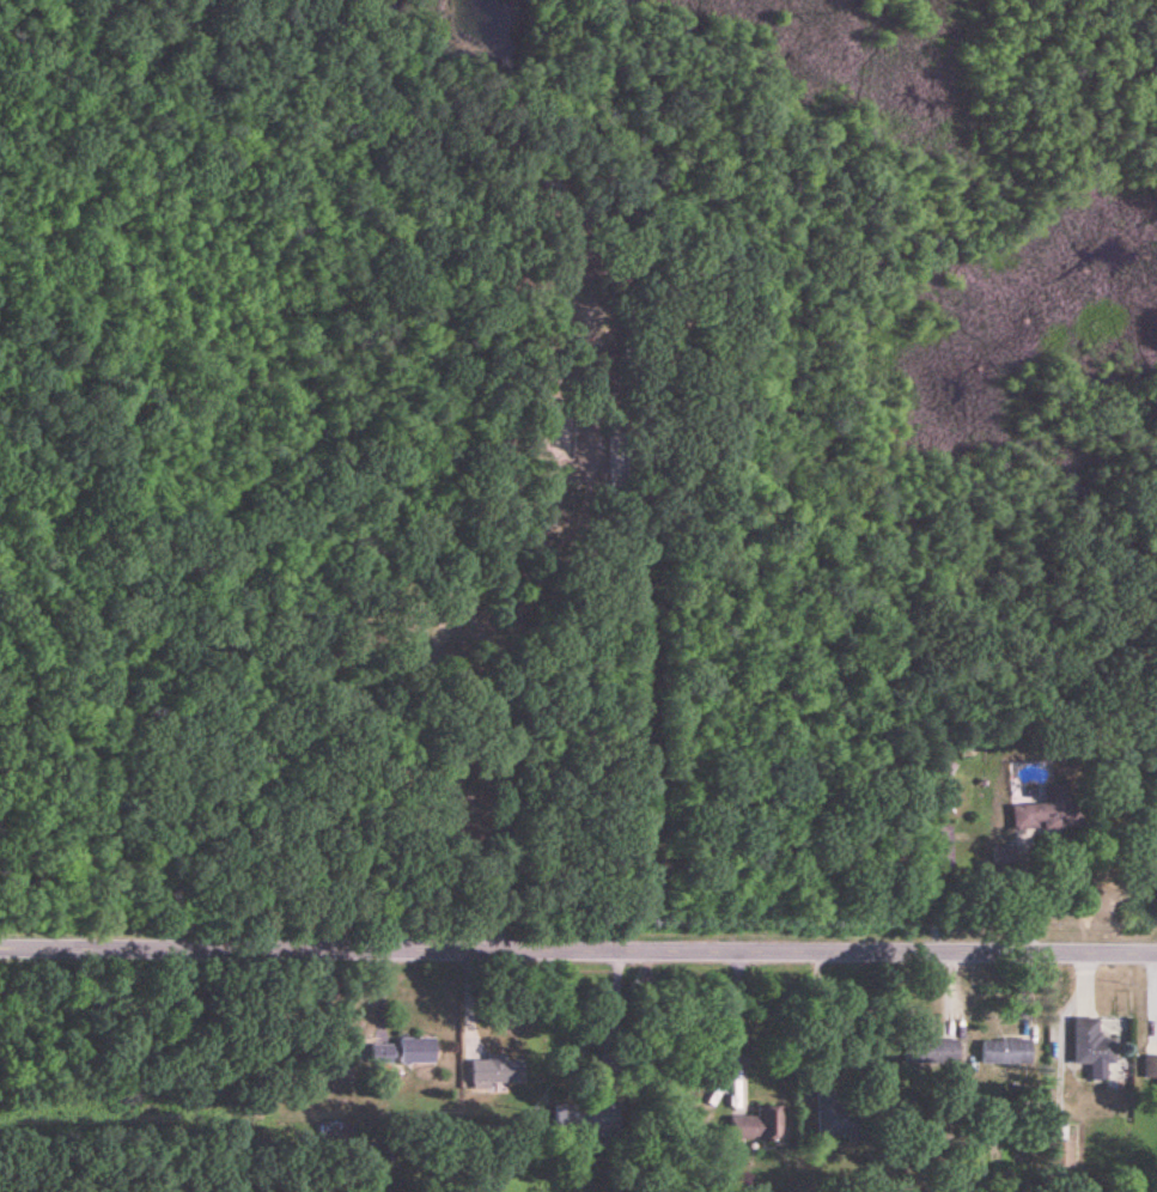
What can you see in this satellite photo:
road: (503, 450)
building: (1049, 815)
building: (938, 849)
road: (578, 951)
building: (1091, 1046)
building: (416, 1052)
building: (937, 1053)
building: (1003, 1053)
building: (382, 1054)
building: (1151, 1069)
building: (497, 1071)
building: (568, 1118)
building: (832, 1120)
building: (756, 1126)
building: (1062, 1155)

